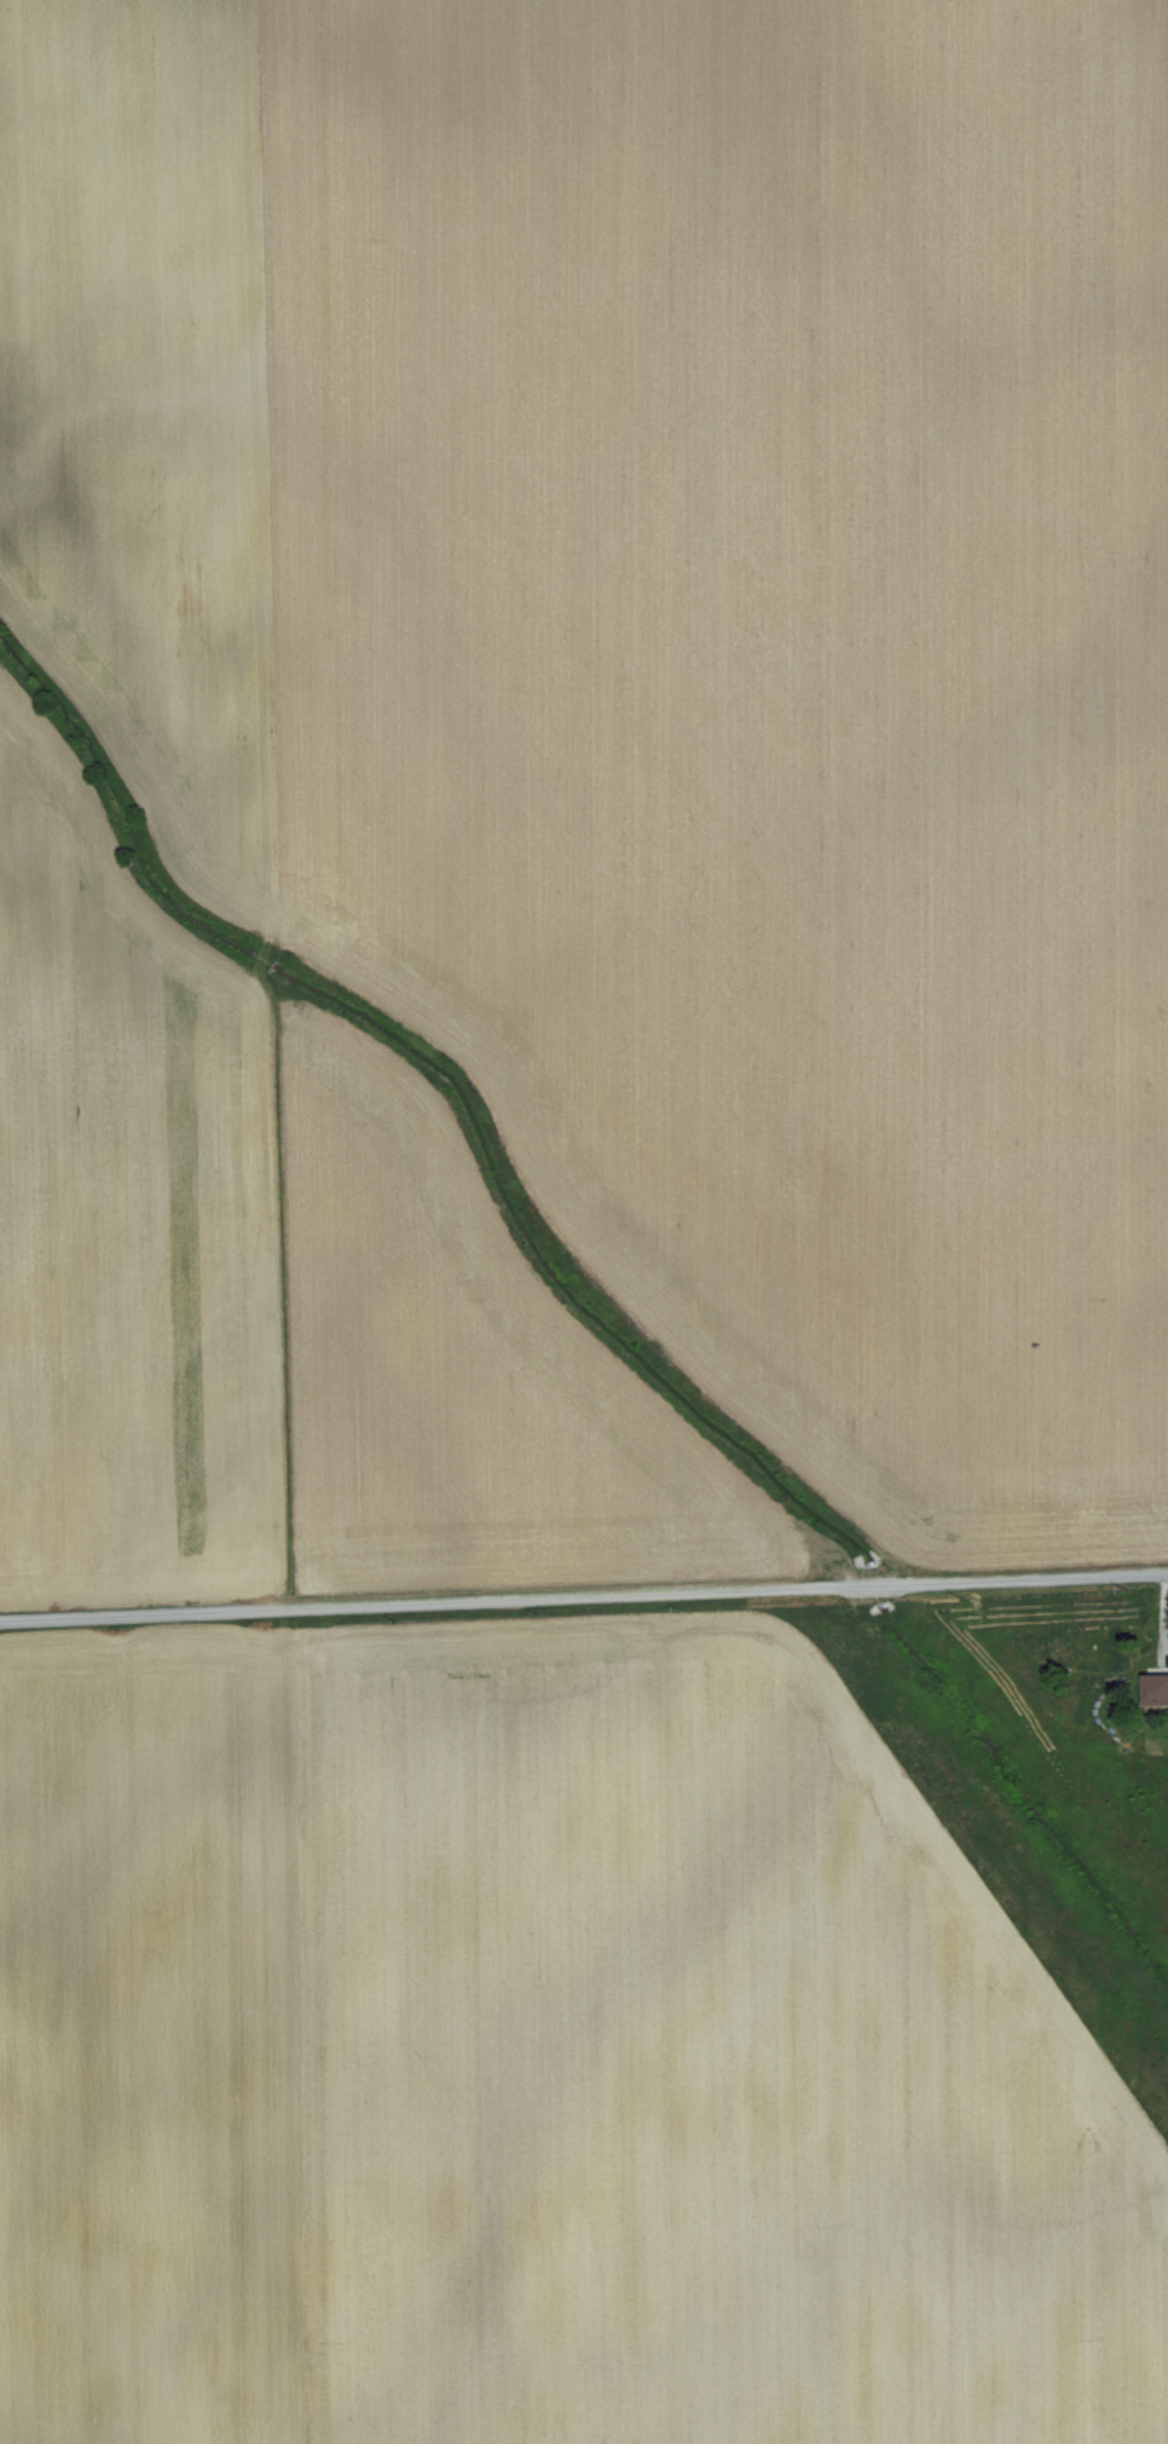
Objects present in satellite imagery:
crop: (584, 1221)
road: (584, 1601)
building: (1152, 1688)

